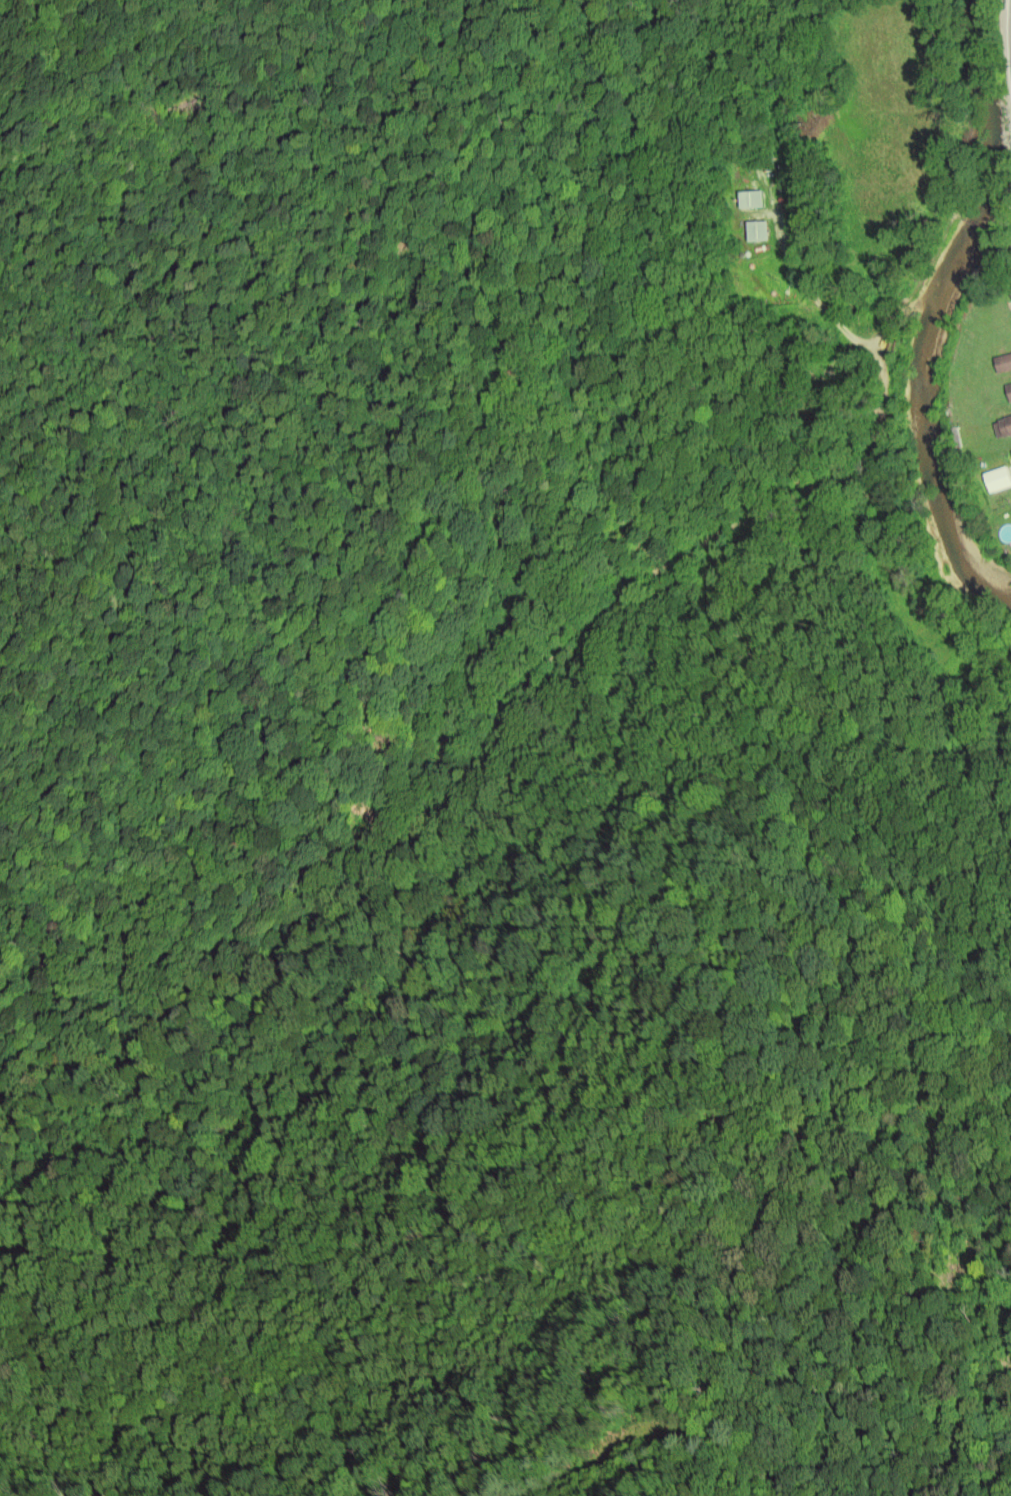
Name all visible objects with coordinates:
building: (751, 198)
building: (757, 230)
river: (988, 286)
building: (1003, 362)
building: (1008, 390)
building: (1003, 427)

